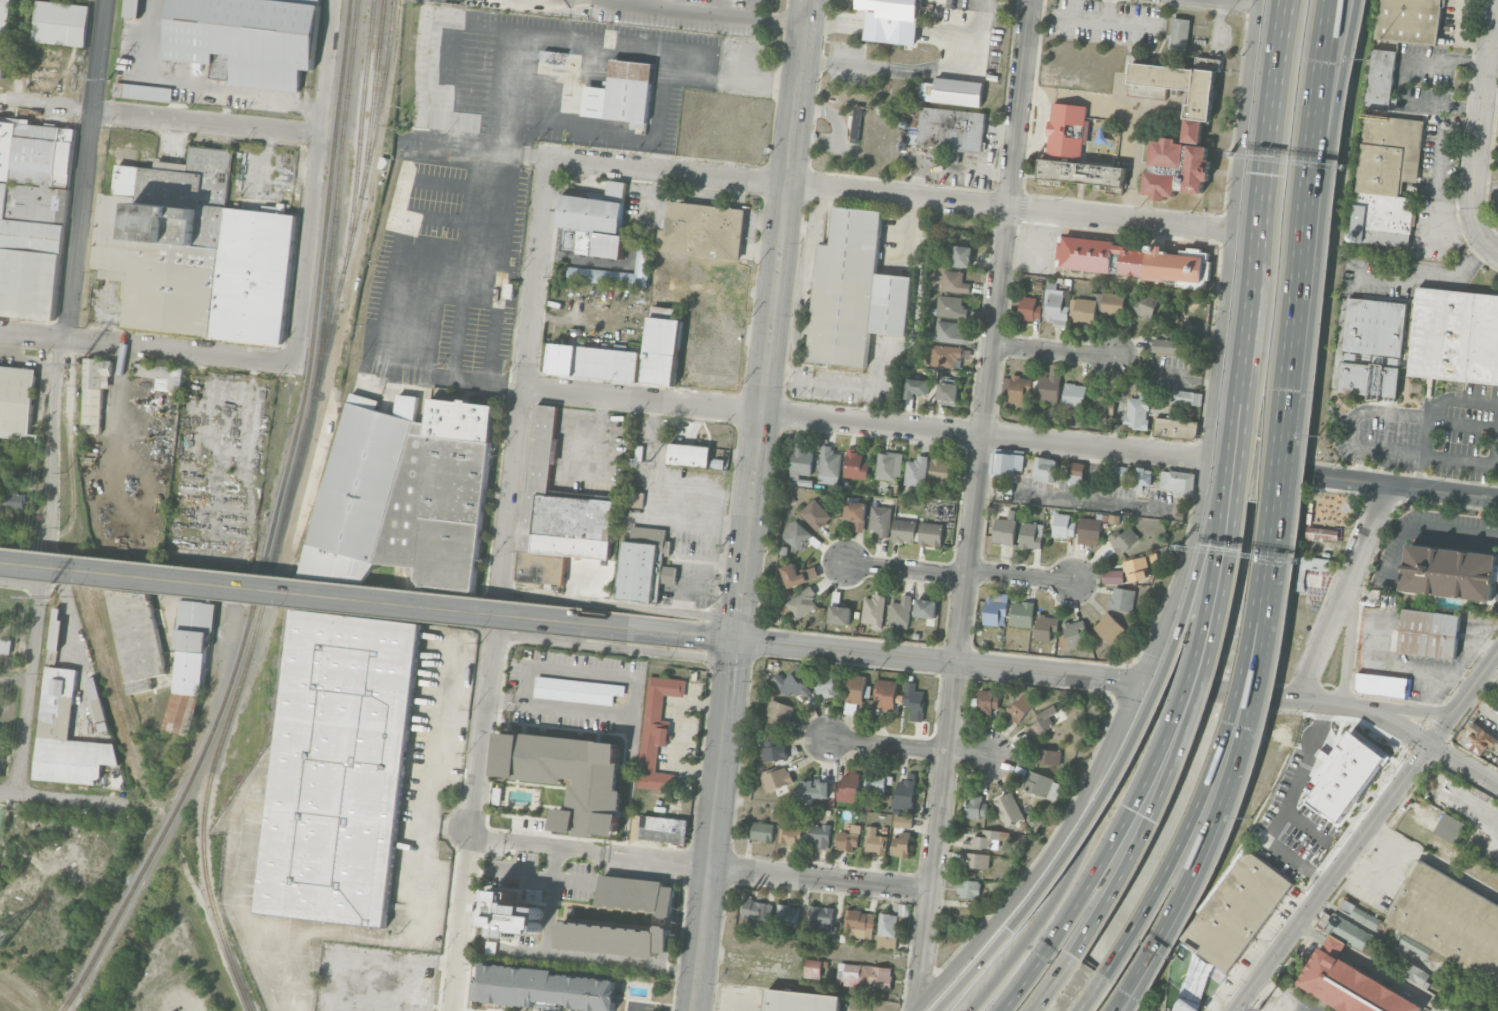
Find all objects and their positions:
road: (545, 0)
road: (622, 4)
building: (133, 8)
road: (753, 9)
road: (720, 15)
road: (1090, 16)
building: (891, 20)
road: (1134, 20)
building: (1408, 20)
road: (837, 21)
building: (61, 23)
road: (891, 28)
building: (3, 33)
road: (940, 34)
building: (1179, 34)
road: (550, 38)
building: (246, 39)
road: (954, 62)
road: (845, 66)
road: (1405, 78)
power tower: (108, 79)
building: (1379, 79)
railway: (374, 86)
building: (1179, 88)
building: (952, 91)
building: (143, 92)
building: (622, 92)
road: (46, 105)
building: (442, 119)
road: (1273, 122)
road: (206, 123)
building: (856, 123)
building: (952, 128)
building: (1067, 130)
road: (1482, 131)
railway: (360, 136)
road: (623, 137)
building: (1389, 153)
road: (523, 155)
road: (86, 157)
building: (1176, 168)
building: (1081, 174)
road: (315, 182)
road: (1488, 186)
road: (888, 195)
road: (1438, 201)
railway: (355, 214)
building: (1382, 218)
railway: (333, 220)
building: (595, 221)
road: (1230, 229)
building: (703, 230)
road: (1304, 233)
road: (1321, 234)
building: (196, 252)
building: (962, 256)
road: (581, 258)
building: (1136, 261)
road: (1431, 279)
railway: (319, 282)
building: (954, 282)
road: (803, 288)
building: (854, 292)
building: (1112, 303)
building: (1145, 305)
building: (951, 307)
building: (1056, 307)
building: (1029, 308)
road: (774, 309)
building: (1085, 310)
road: (1247, 322)
road: (1253, 323)
road: (64, 327)
building: (946, 333)
building: (1455, 334)
building: (1166, 342)
road: (427, 346)
building: (1373, 346)
road: (142, 347)
road: (1054, 350)
building: (945, 355)
building: (626, 356)
power tower: (79, 364)
building: (725, 365)
building: (162, 375)
road: (835, 384)
building: (1016, 387)
building: (916, 388)
building: (1048, 388)
building: (95, 392)
building: (947, 392)
building: (1074, 394)
building: (1186, 397)
building: (16, 403)
building: (1102, 407)
building: (1137, 413)
road: (1396, 413)
road: (864, 422)
building: (1175, 429)
parking lot: (1428, 432)
road: (598, 435)
road: (1494, 445)
road: (1425, 452)
building: (689, 454)
road: (1428, 454)
building: (801, 459)
building: (829, 461)
building: (854, 463)
road: (1228, 463)
building: (888, 464)
building: (1007, 464)
building: (1045, 468)
building: (940, 469)
building: (916, 470)
building: (1076, 472)
road: (1097, 473)
building: (1120, 473)
road: (1318, 475)
building: (1142, 477)
building: (1177, 481)
road: (704, 487)
building: (1005, 488)
road: (1278, 490)
road: (1442, 490)
building: (405, 493)
road: (508, 495)
building: (636, 499)
road: (1095, 499)
building: (16, 500)
railway: (282, 500)
road: (973, 504)
road: (655, 505)
building: (856, 512)
building: (556, 513)
building: (815, 513)
building: (880, 518)
building: (1111, 518)
road: (1219, 518)
road: (1233, 521)
road: (1370, 524)
building: (1063, 526)
road: (1425, 527)
building: (904, 529)
building: (1004, 530)
building: (1089, 530)
building: (931, 532)
building: (799, 533)
building: (1320, 533)
building: (1031, 534)
parking lot: (1432, 538)
building: (1123, 540)
road: (23, 545)
building: (1153, 556)
road: (691, 561)
road: (44, 565)
building: (645, 565)
building: (1136, 568)
building: (1450, 569)
road: (905, 570)
building: (798, 572)
road: (1180, 573)
road: (1019, 576)
building: (1112, 576)
road: (572, 578)
road: (21, 584)
parking lot: (1497, 587)
power tower: (50, 597)
road: (353, 598)
building: (1123, 599)
building: (802, 601)
road: (590, 603)
building: (926, 606)
building: (995, 607)
building: (874, 608)
building: (901, 609)
road: (1268, 610)
building: (840, 612)
building: (1022, 612)
road: (711, 616)
building: (1045, 626)
building: (1109, 626)
road: (737, 628)
building: (57, 629)
road: (1378, 630)
building: (1075, 632)
road: (1326, 633)
building: (1429, 633)
road: (1350, 635)
road: (721, 636)
traffic signals: (736, 638)
building: (5, 646)
road: (613, 648)
road: (734, 649)
road: (1472, 649)
parking lot: (1417, 654)
road: (937, 659)
building: (190, 663)
building: (801, 668)
road: (1417, 668)
road: (603, 673)
road: (1492, 673)
road: (20, 680)
road: (1463, 680)
building: (825, 682)
traffic signals: (1138, 682)
building: (791, 683)
building: (1381, 685)
road: (1158, 686)
building: (856, 687)
building: (577, 690)
road: (1218, 691)
building: (886, 692)
road: (1464, 698)
building: (987, 699)
building: (914, 700)
road: (560, 706)
building: (1021, 706)
road: (1411, 708)
building: (780, 711)
building: (1040, 721)
railway: (225, 725)
road: (1402, 728)
building: (656, 730)
building: (67, 735)
road: (679, 735)
building: (1480, 739)
traffic signals: (1432, 744)
road: (908, 746)
building: (775, 749)
building: (1048, 755)
road: (1215, 762)
building: (340, 767)
building: (109, 775)
building: (569, 776)
building: (776, 777)
building: (876, 780)
building: (1037, 782)
building: (849, 786)
building: (814, 787)
railway: (185, 789)
building: (904, 793)
road: (52, 795)
road: (1290, 801)
road: (1157, 804)
building: (975, 805)
building: (1008, 807)
building: (902, 820)
building: (1450, 826)
building: (664, 828)
road: (450, 829)
building: (762, 830)
road: (1119, 833)
building: (790, 834)
building: (821, 834)
road: (712, 835)
building: (985, 838)
building: (846, 839)
building: (876, 842)
building: (901, 843)
road: (537, 847)
road: (1045, 858)
road: (1078, 858)
building: (974, 859)
road: (656, 861)
road: (1434, 861)
road: (1195, 865)
road: (1207, 865)
road: (423, 868)
road: (541, 874)
road: (1331, 876)
road: (819, 878)
road: (1377, 879)
building: (968, 887)
building: (637, 895)
road: (463, 902)
road: (551, 902)
building: (757, 910)
building: (904, 910)
building: (1237, 911)
building: (786, 913)
building: (1361, 913)
building: (511, 915)
building: (820, 918)
building: (1449, 920)
building: (859, 921)
building: (887, 930)
building: (1348, 930)
road: (1381, 935)
building: (614, 938)
power tower: (0, 945)
building: (1414, 945)
road: (413, 958)
road: (579, 958)
building: (813, 967)
road: (1370, 967)
building: (1412, 970)
building: (864, 974)
road: (969, 975)
road: (1054, 984)
road: (1270, 984)
building: (1351, 985)
building: (547, 986)
road: (26, 994)
road: (1085, 1000)
building: (800, 1001)
power substation: (1288, 1002)
road: (740, 1004)
road: (1150, 1004)
road: (638, 1005)
railway: (66, 1006)
power tower: (1259, 1008)

